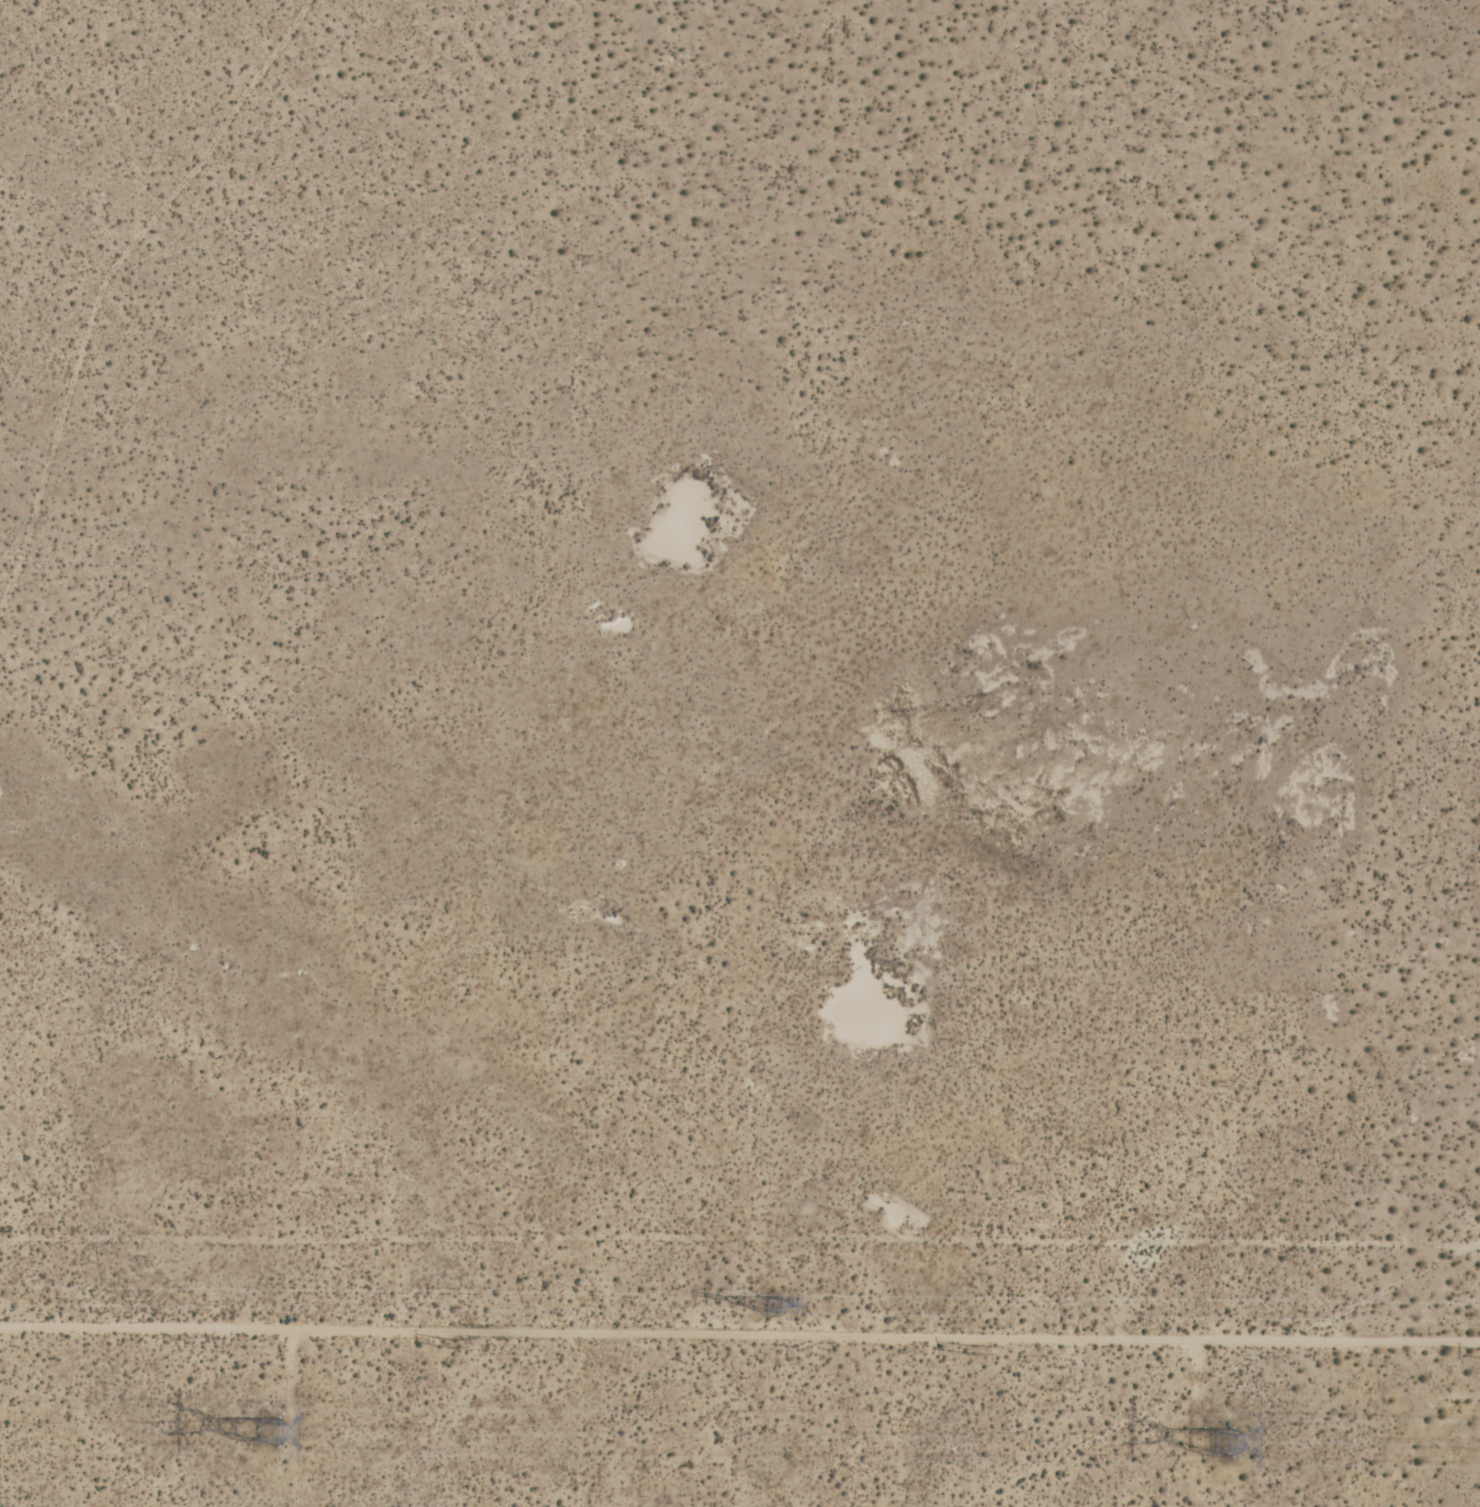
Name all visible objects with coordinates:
power tower: (772, 1306)
road: (740, 1335)
power tower: (448, 1343)
power tower: (977, 1349)
power tower: (258, 1426)
power tower: (1216, 1444)

